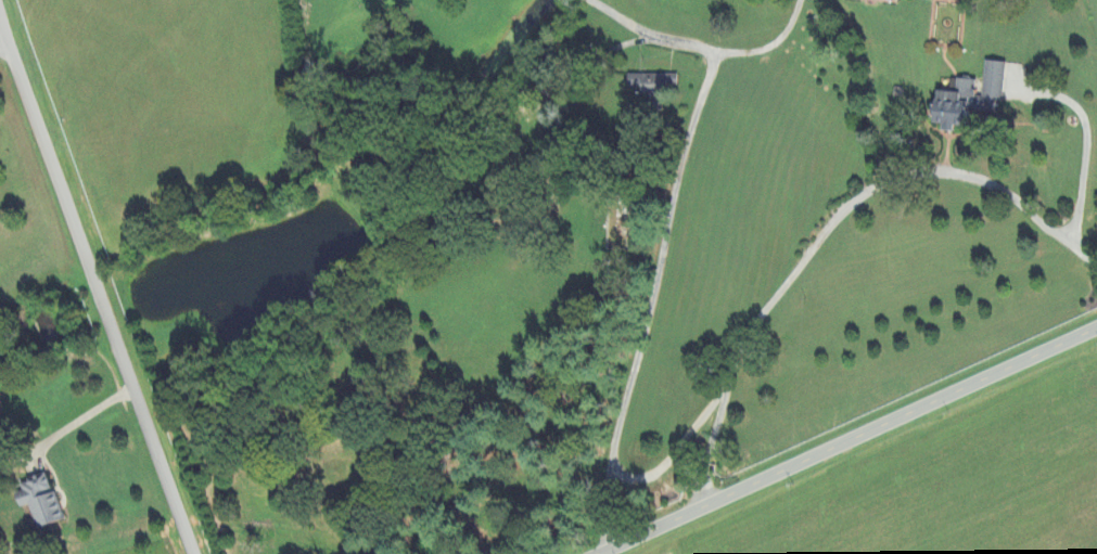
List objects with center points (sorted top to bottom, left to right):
road: (7, 27)
road: (767, 44)
building: (659, 83)
building: (975, 94)
road: (1088, 146)
road: (827, 226)
road: (660, 243)
road: (101, 296)
road: (82, 417)
road: (850, 440)
road: (671, 455)
building: (47, 500)

